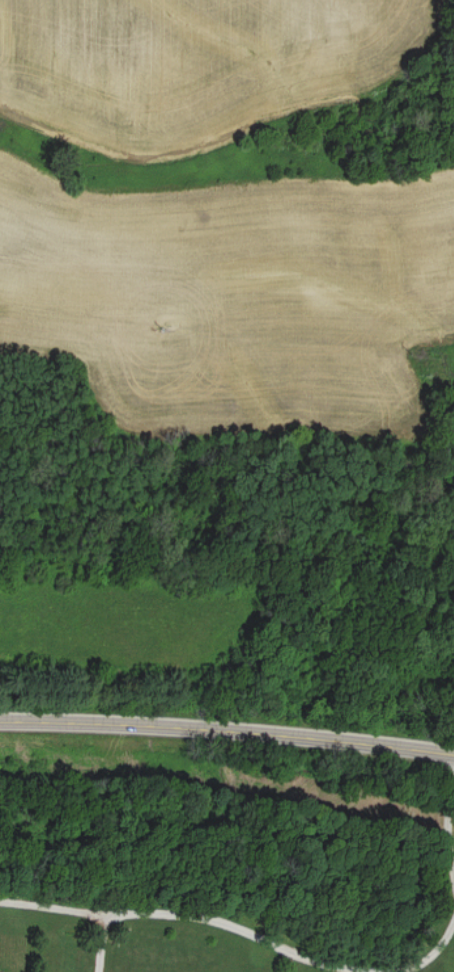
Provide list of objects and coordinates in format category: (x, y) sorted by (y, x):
road: (227, 730)

